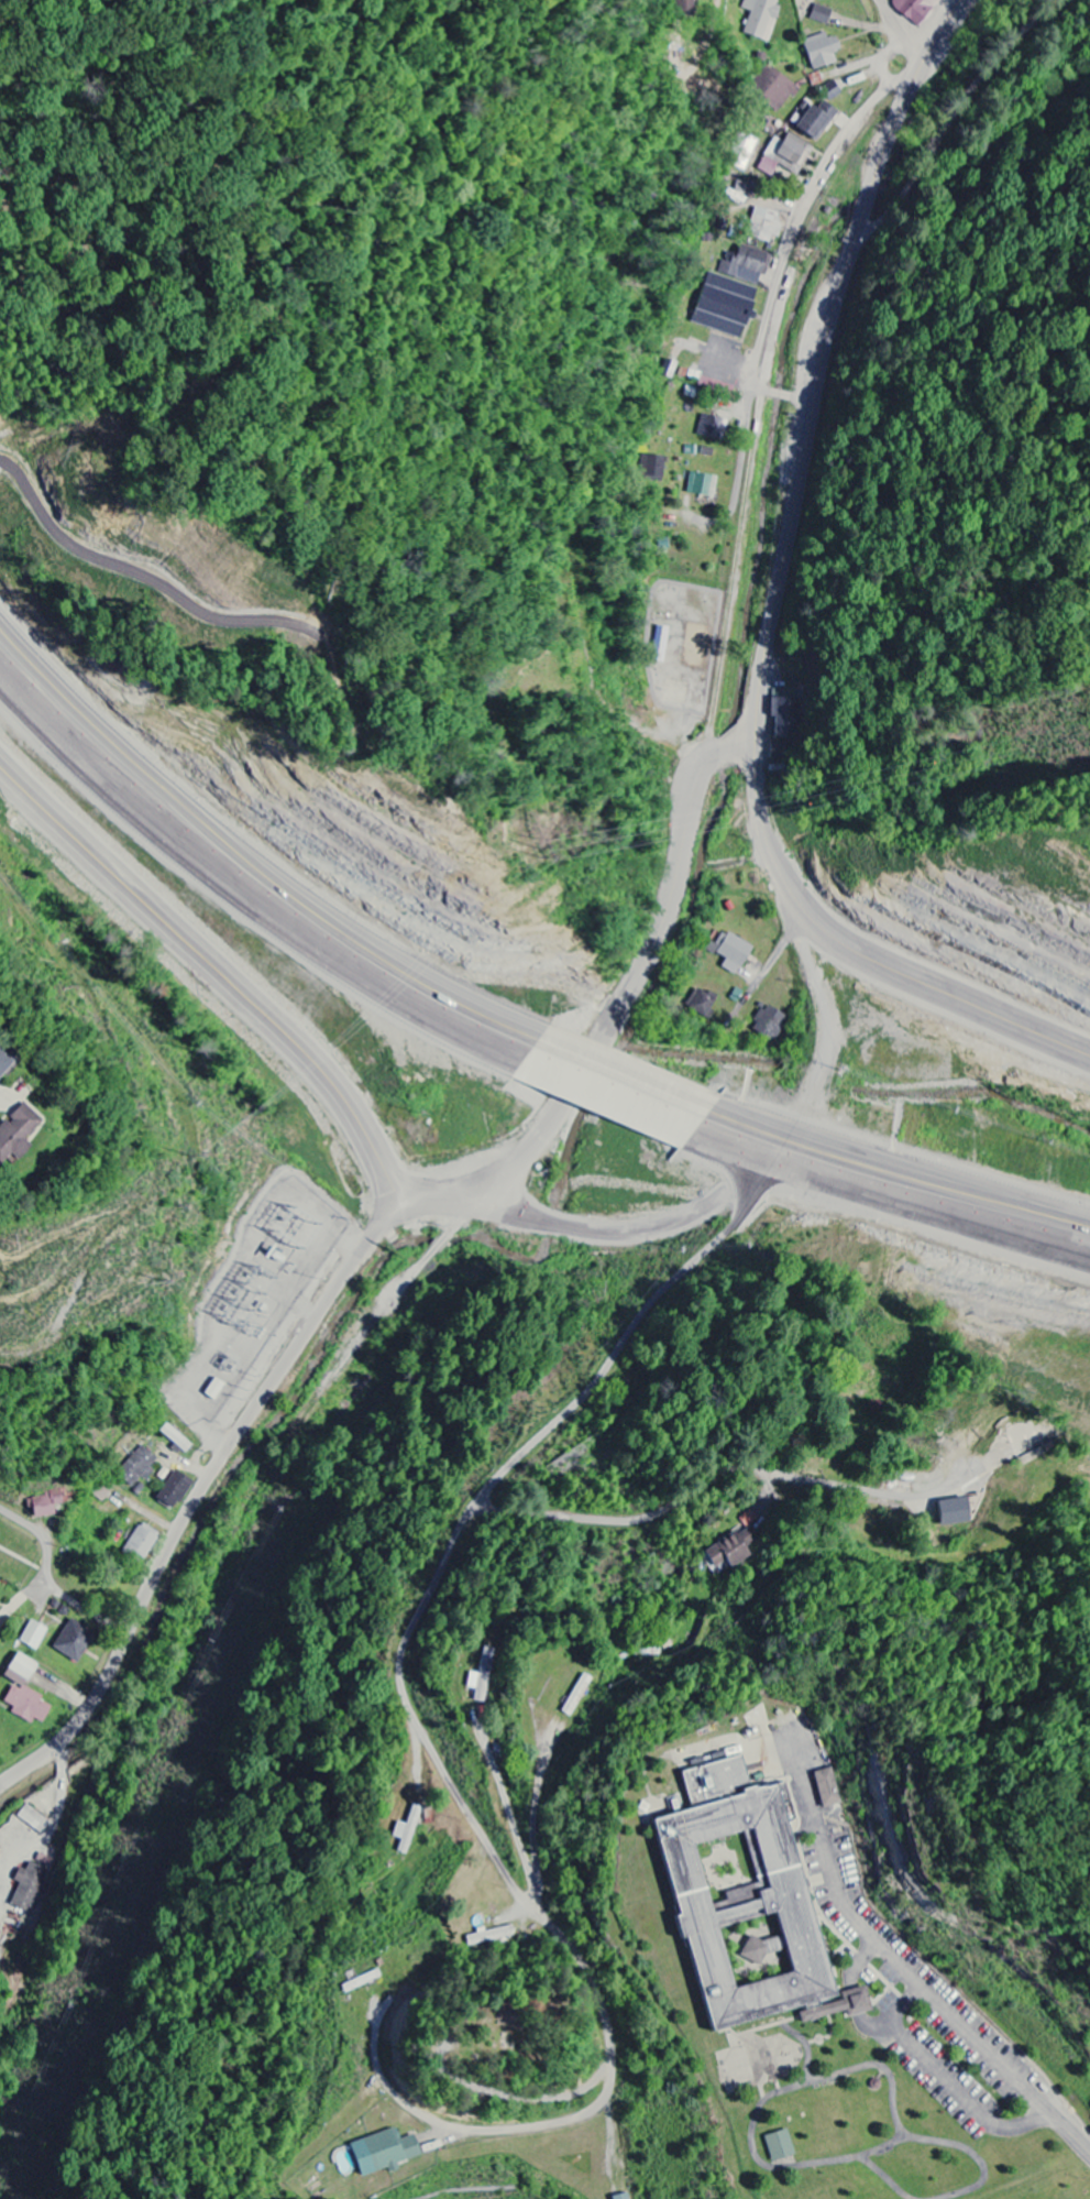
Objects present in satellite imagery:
building: (819, 1)
building: (681, 7)
building: (916, 10)
building: (821, 15)
building: (762, 19)
road: (900, 31)
building: (822, 52)
building: (774, 89)
building: (832, 91)
road: (957, 113)
building: (814, 121)
building: (786, 156)
building: (764, 227)
building: (747, 266)
road: (779, 277)
building: (725, 306)
road: (783, 393)
building: (712, 428)
building: (652, 468)
building: (702, 484)
road: (768, 638)
building: (783, 712)
power tower: (542, 851)
road: (244, 884)
building: (731, 951)
road: (863, 955)
road: (217, 973)
building: (702, 1003)
building: (770, 1024)
building: (4, 1064)
road: (614, 1087)
building: (16, 1134)
power tower: (188, 1155)
road: (801, 1157)
road: (997, 1211)
power tower: (275, 1213)
power substation: (260, 1297)
building: (214, 1390)
building: (177, 1438)
road: (221, 1459)
building: (137, 1467)
road: (780, 1475)
building: (174, 1491)
building: (46, 1506)
building: (956, 1512)
building: (141, 1543)
building: (733, 1550)
road: (443, 1561)
road: (51, 1579)
building: (33, 1635)
building: (73, 1641)
building: (482, 1677)
building: (24, 1693)
building: (577, 1696)
building: (828, 1790)
building: (33, 1820)
building: (408, 1831)
building: (29, 1888)
building: (746, 1902)
road: (1015, 2078)
building: (780, 2146)
building: (383, 2154)
building: (623, 2197)

